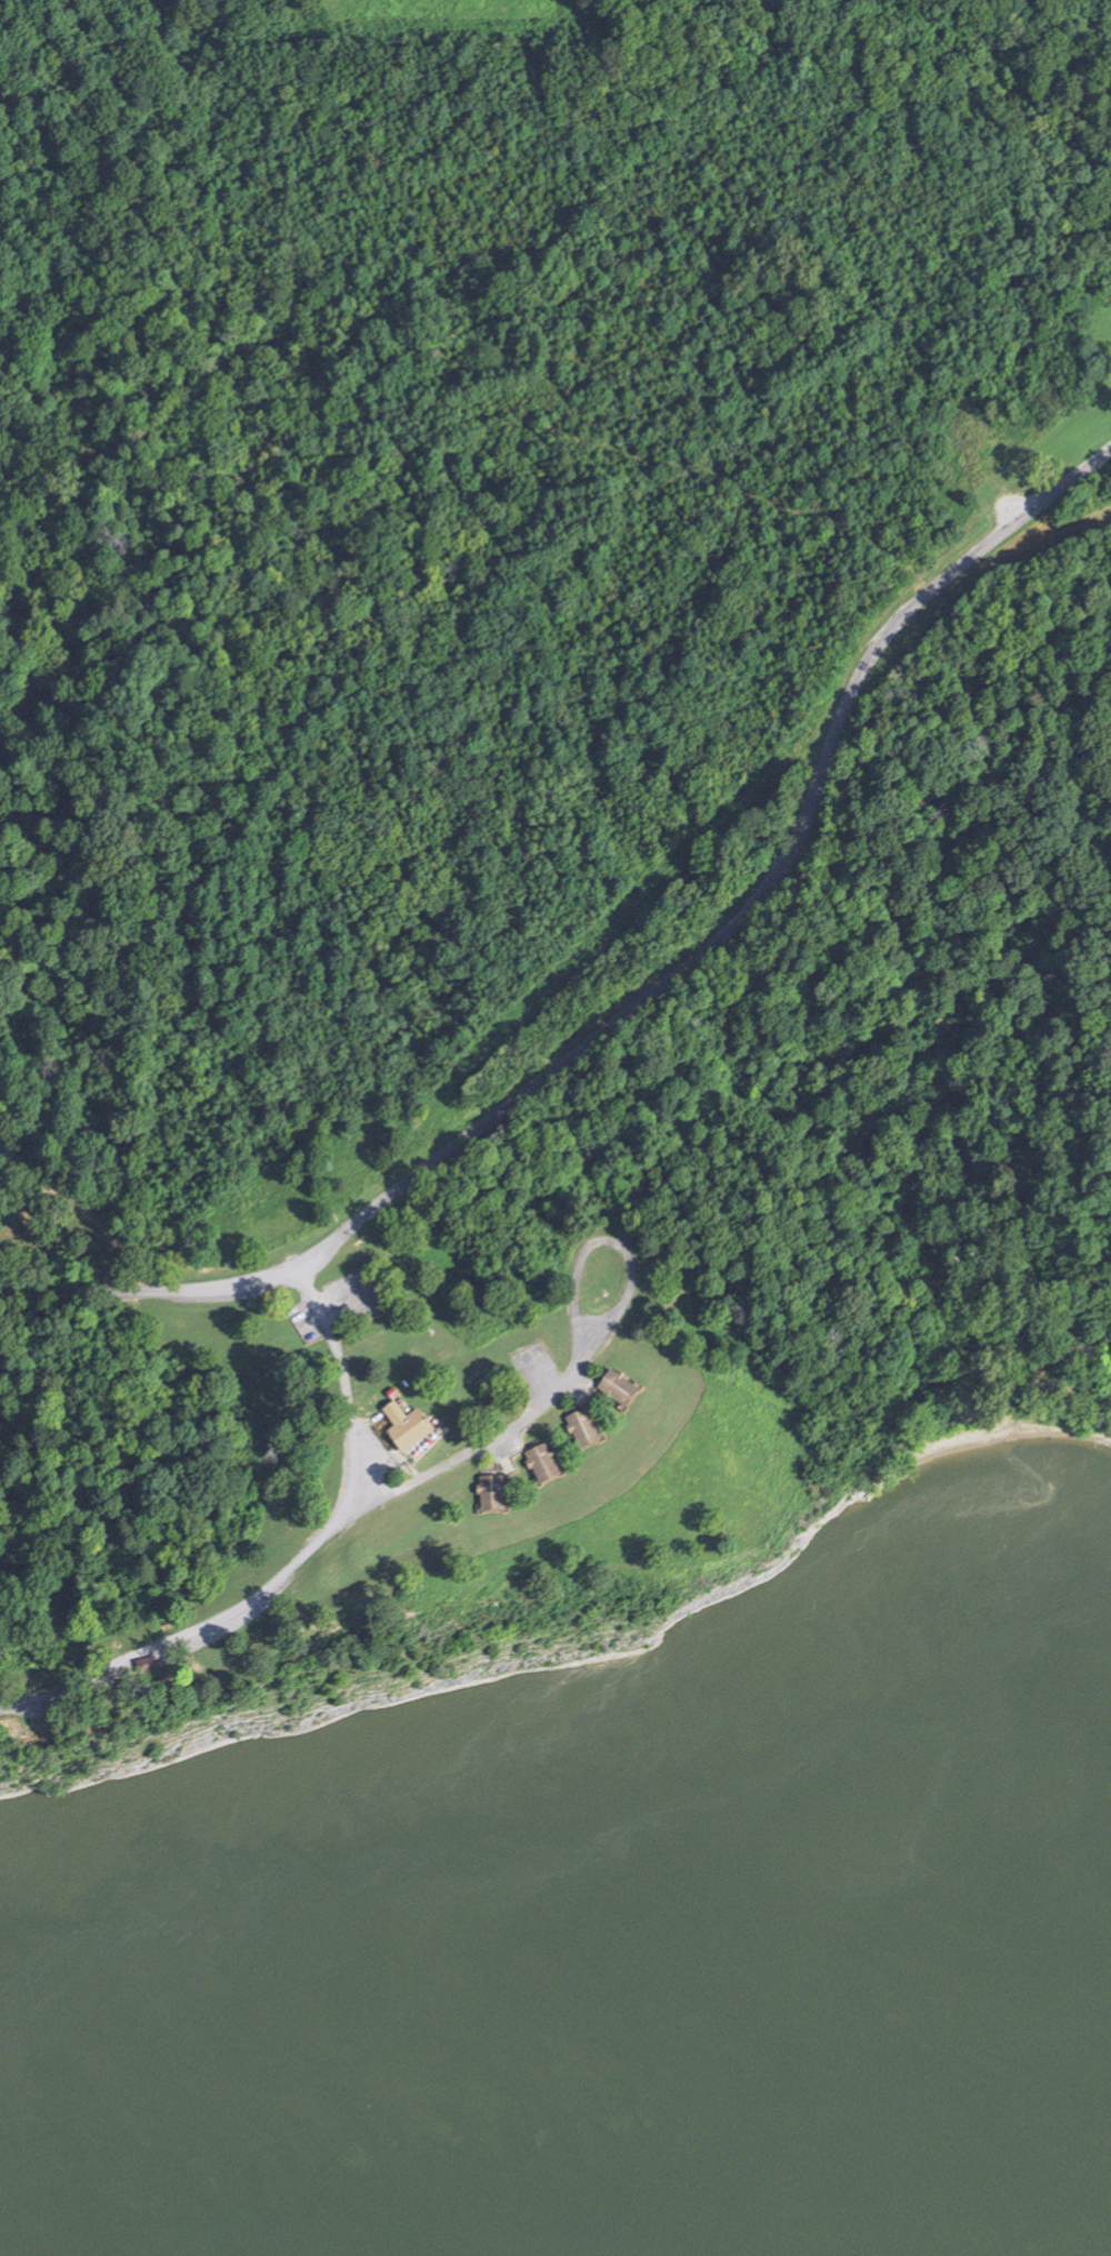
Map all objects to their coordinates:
road: (440, 438)
road: (753, 900)
road: (83, 1216)
road: (191, 1266)
road: (147, 1291)
road: (580, 1356)
building: (620, 1390)
building: (403, 1425)
building: (584, 1431)
building: (544, 1466)
building: (492, 1496)
road: (289, 1563)
river: (1020, 2232)

